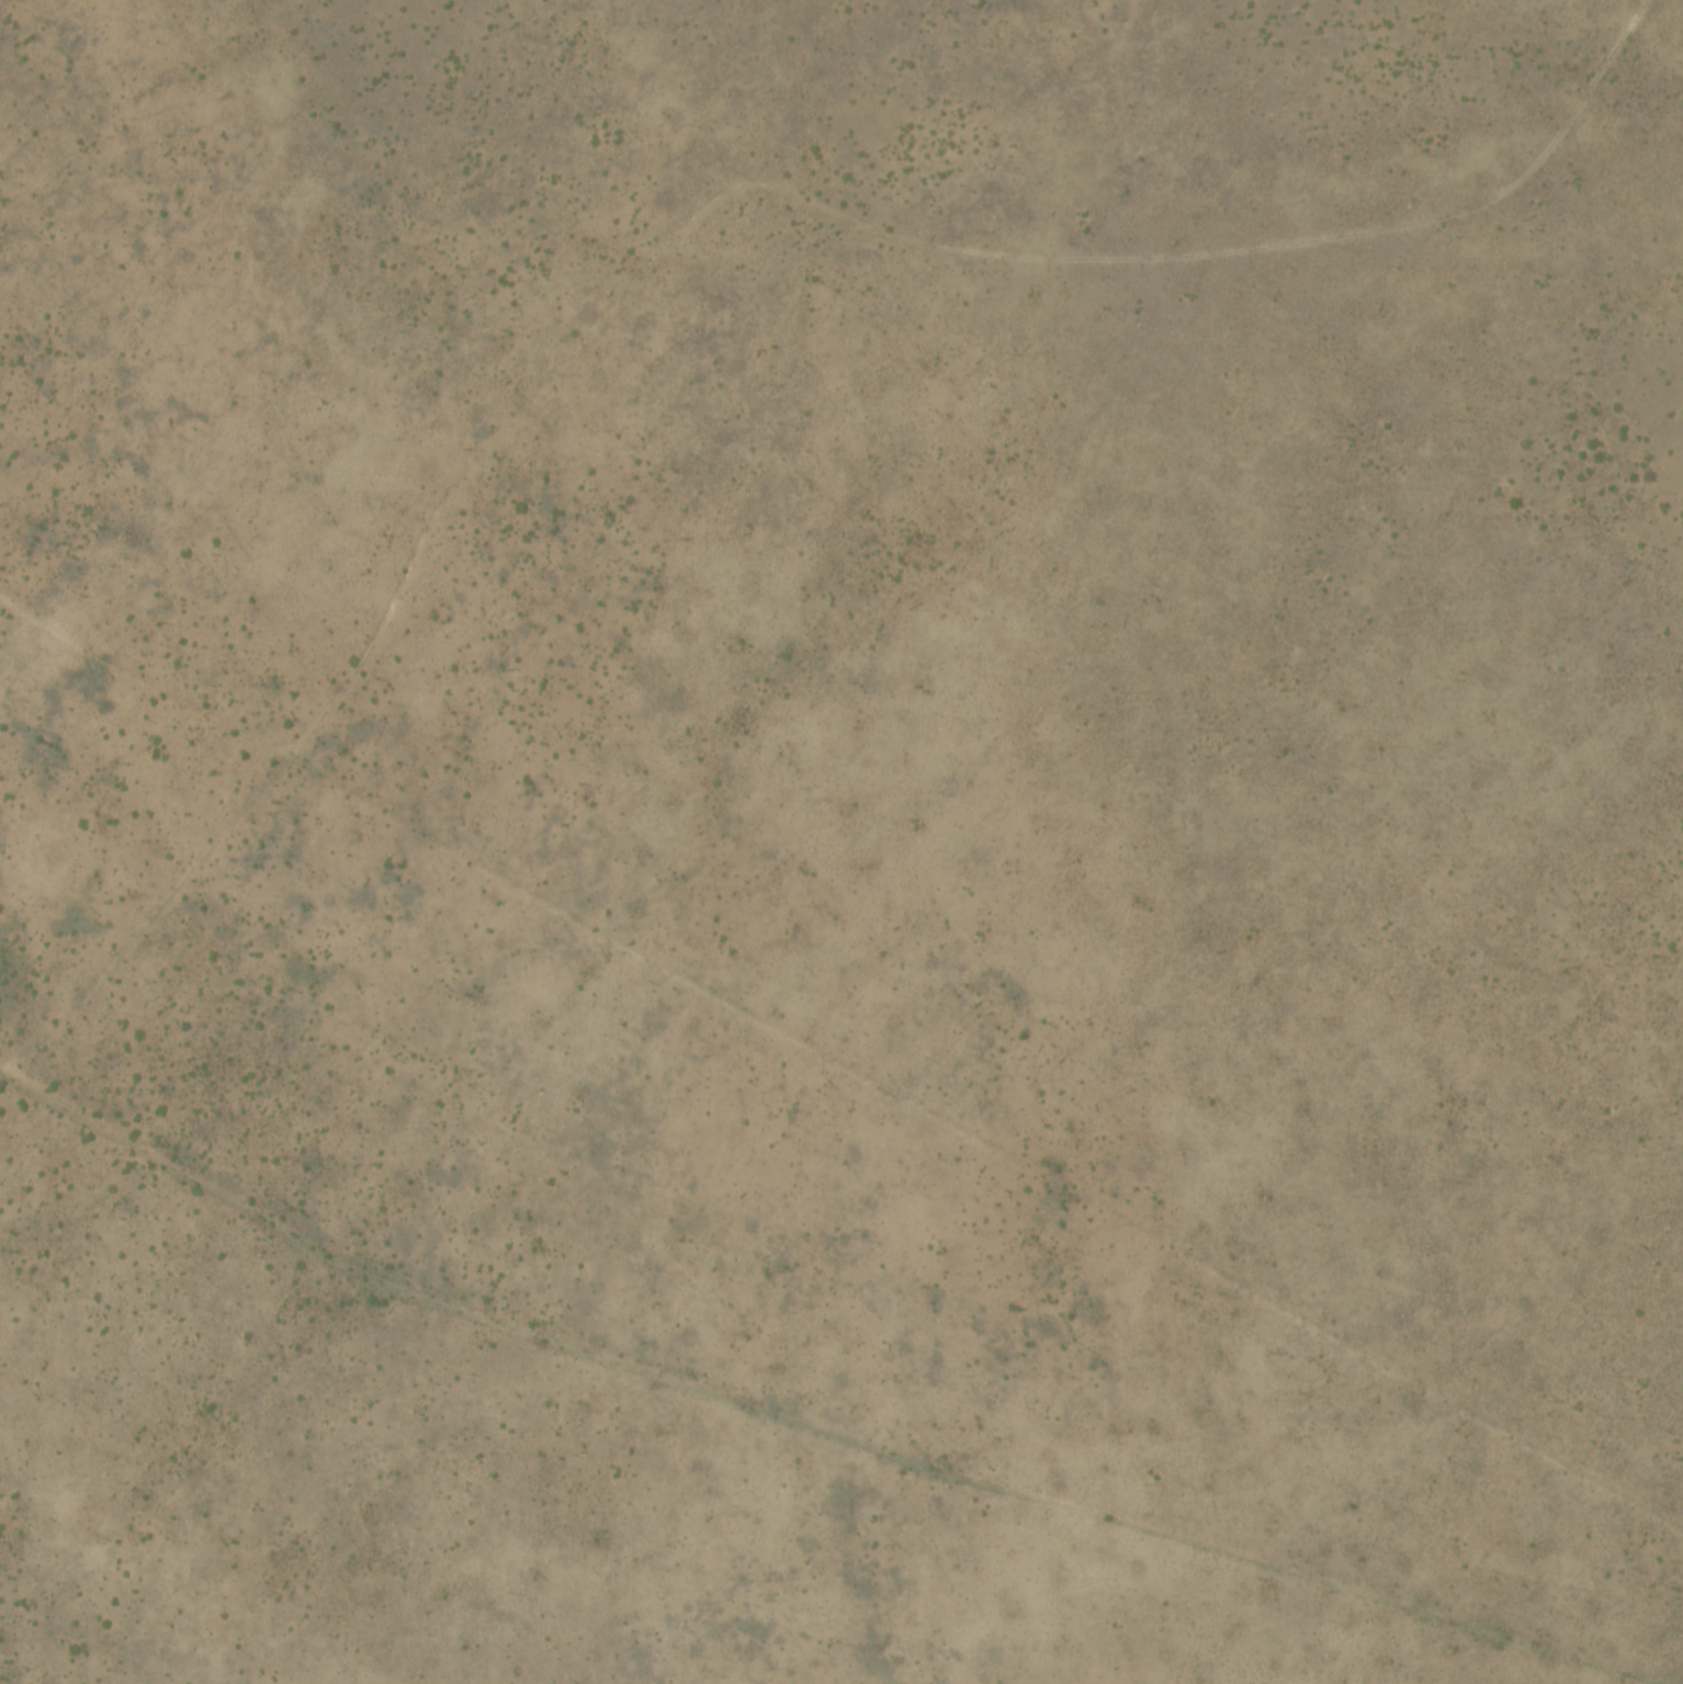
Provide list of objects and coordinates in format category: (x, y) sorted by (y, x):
road: (690, 240)
road: (769, 1444)

